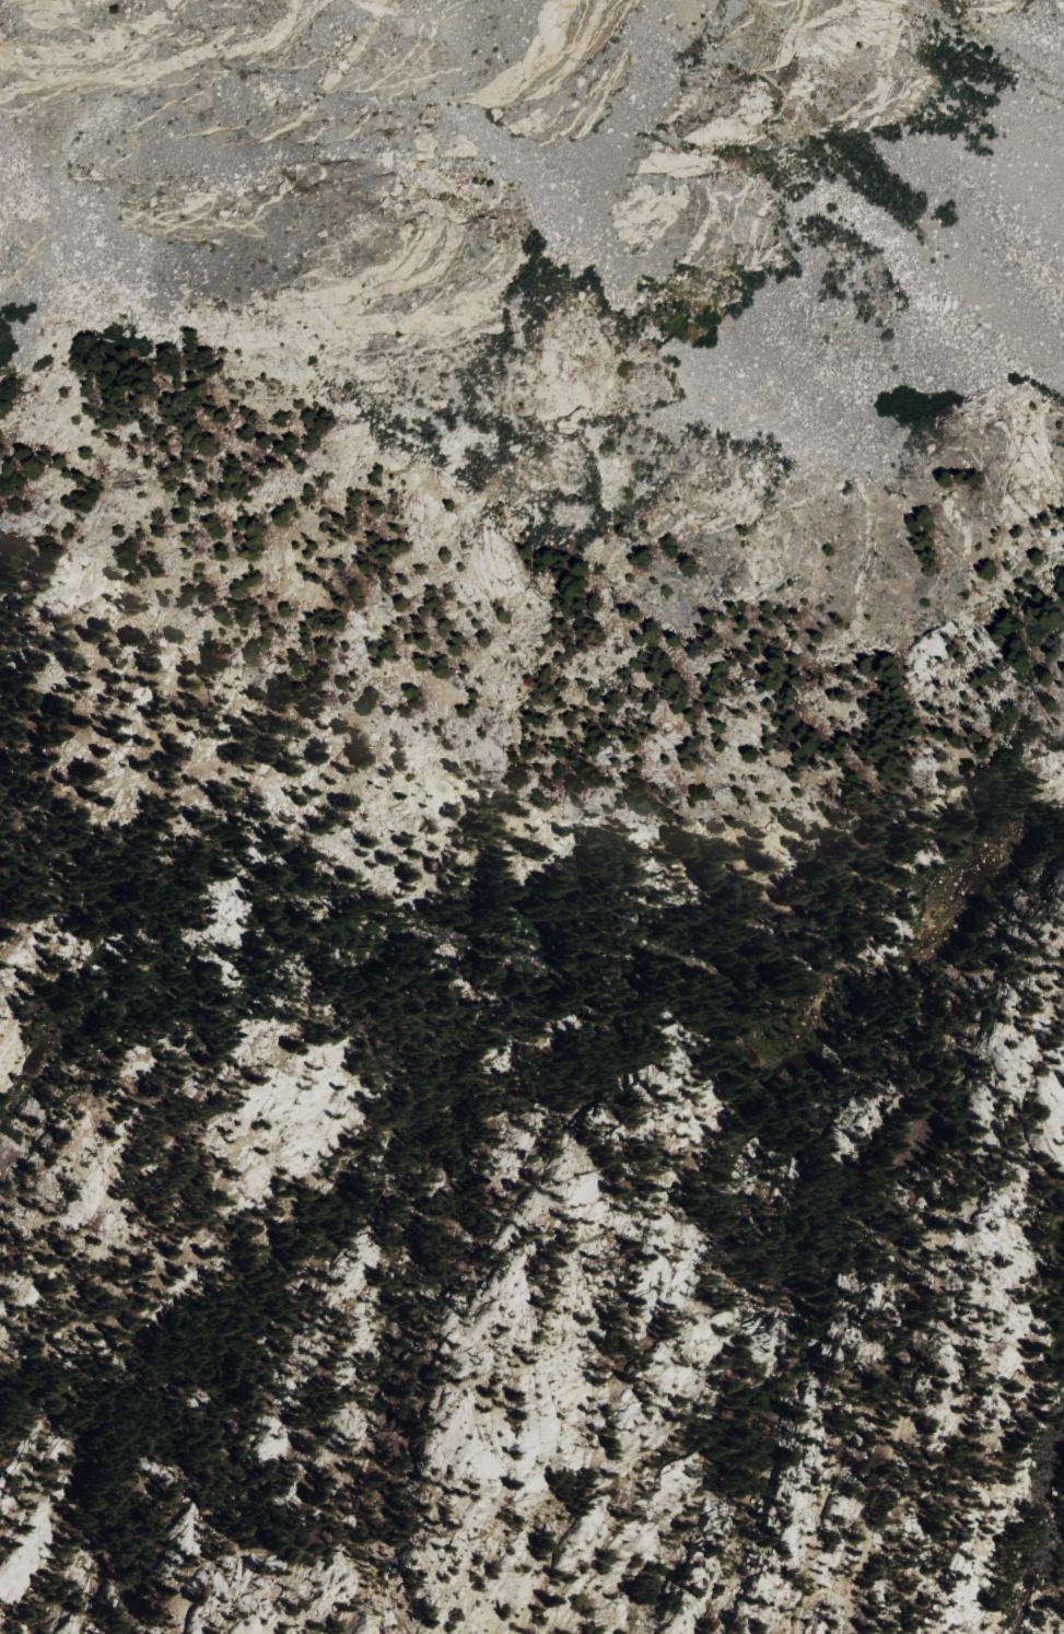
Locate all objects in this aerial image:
road: (1024, 632)
road: (943, 1097)

